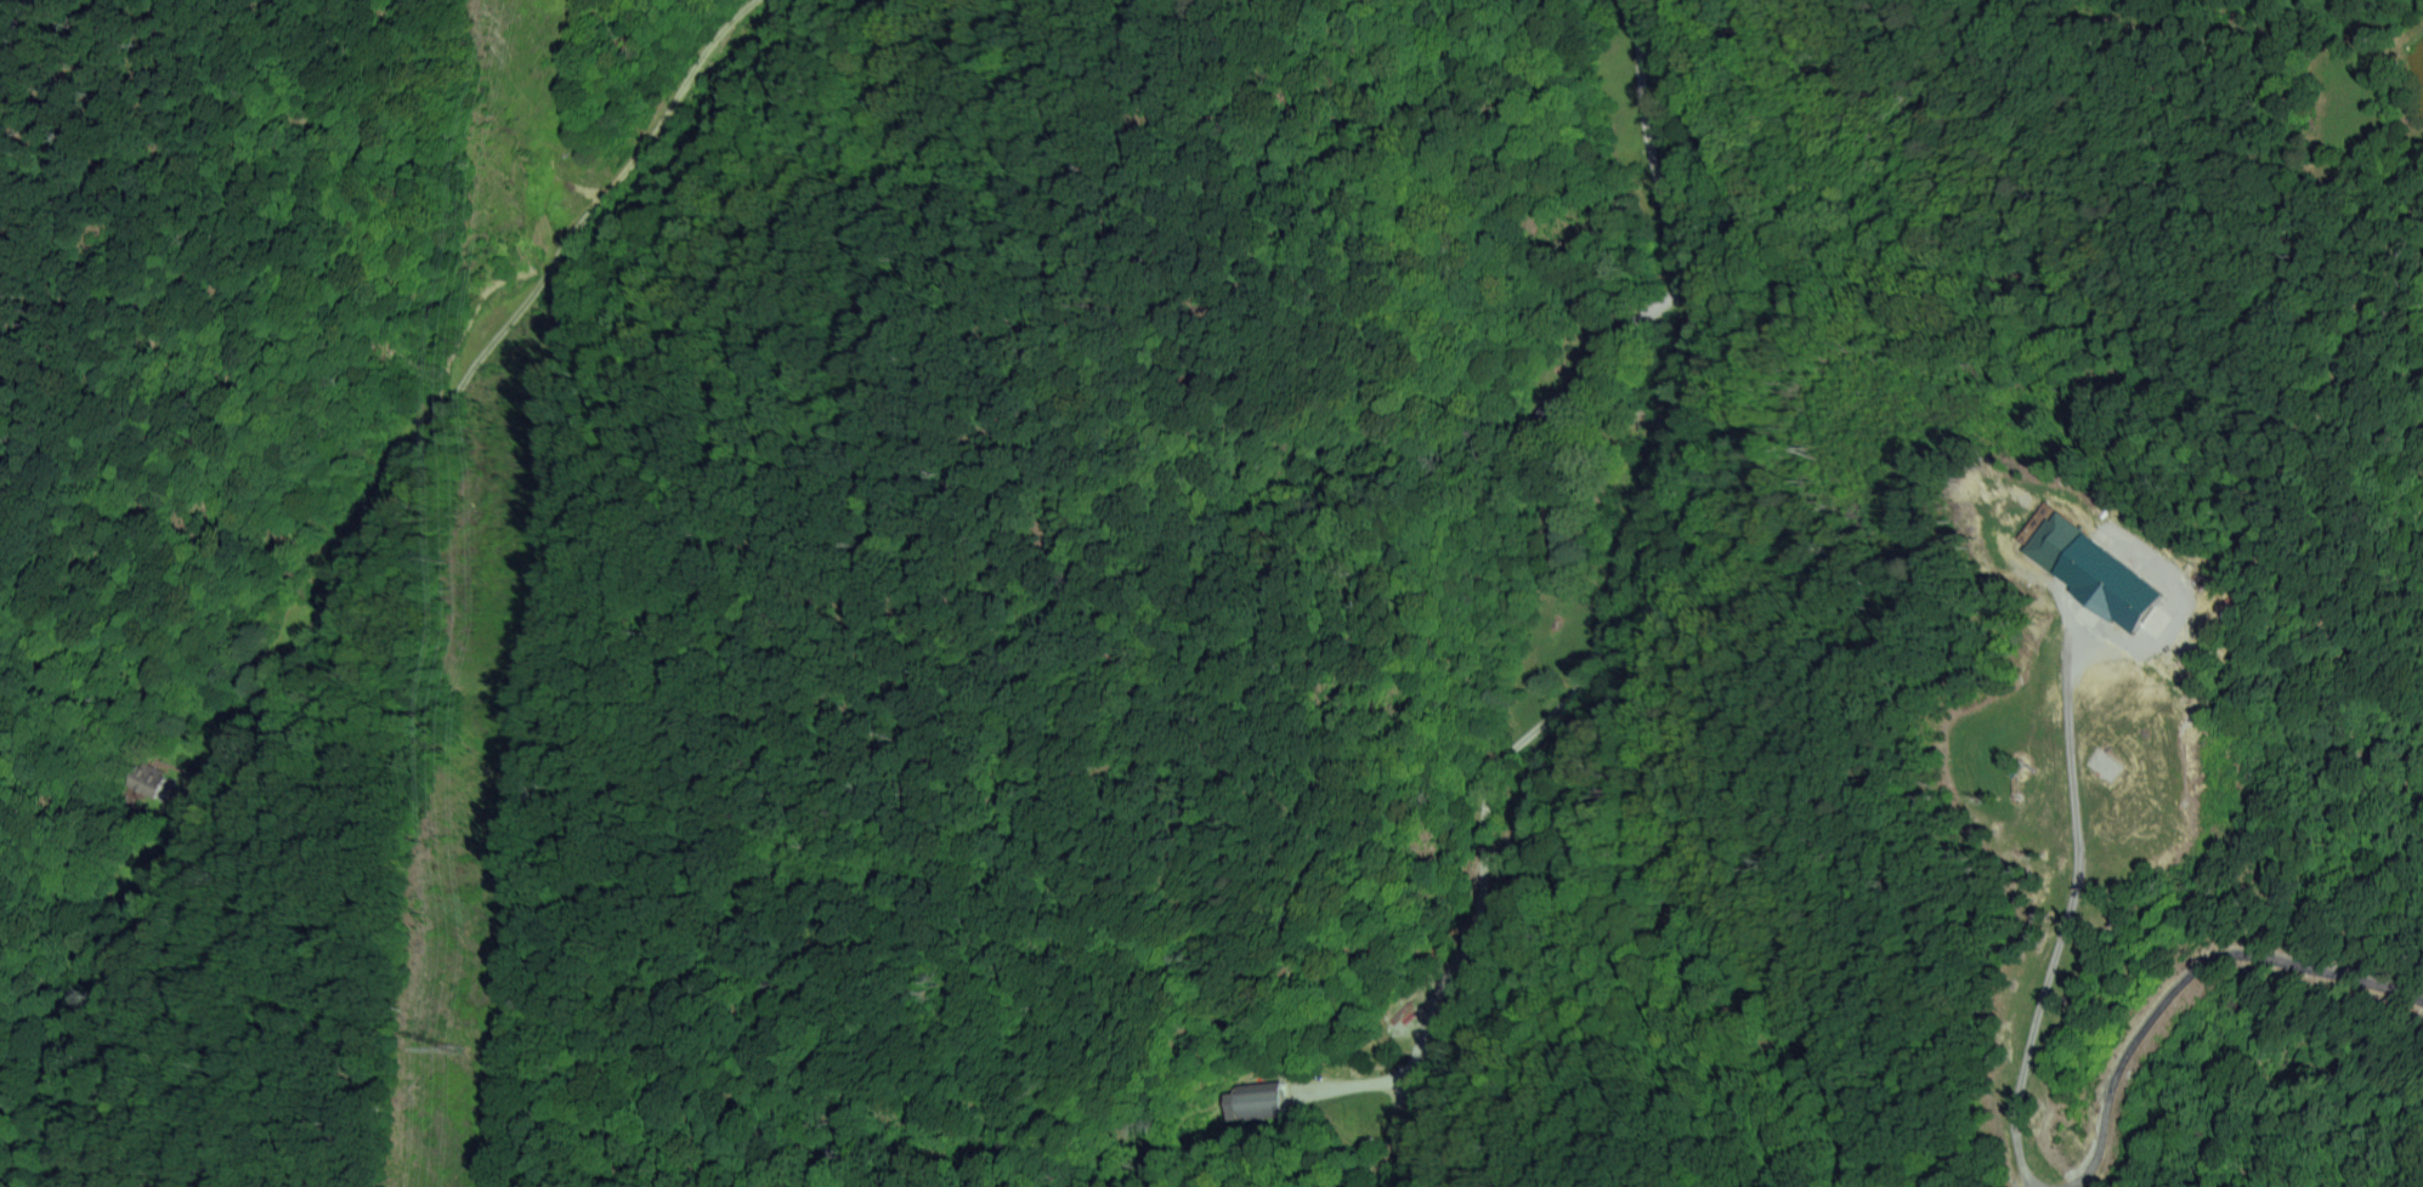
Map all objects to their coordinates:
road: (1671, 200)
road: (477, 352)
building: (2091, 566)
road: (2062, 930)
road: (2178, 977)
power tower: (449, 1045)
building: (1253, 1096)

